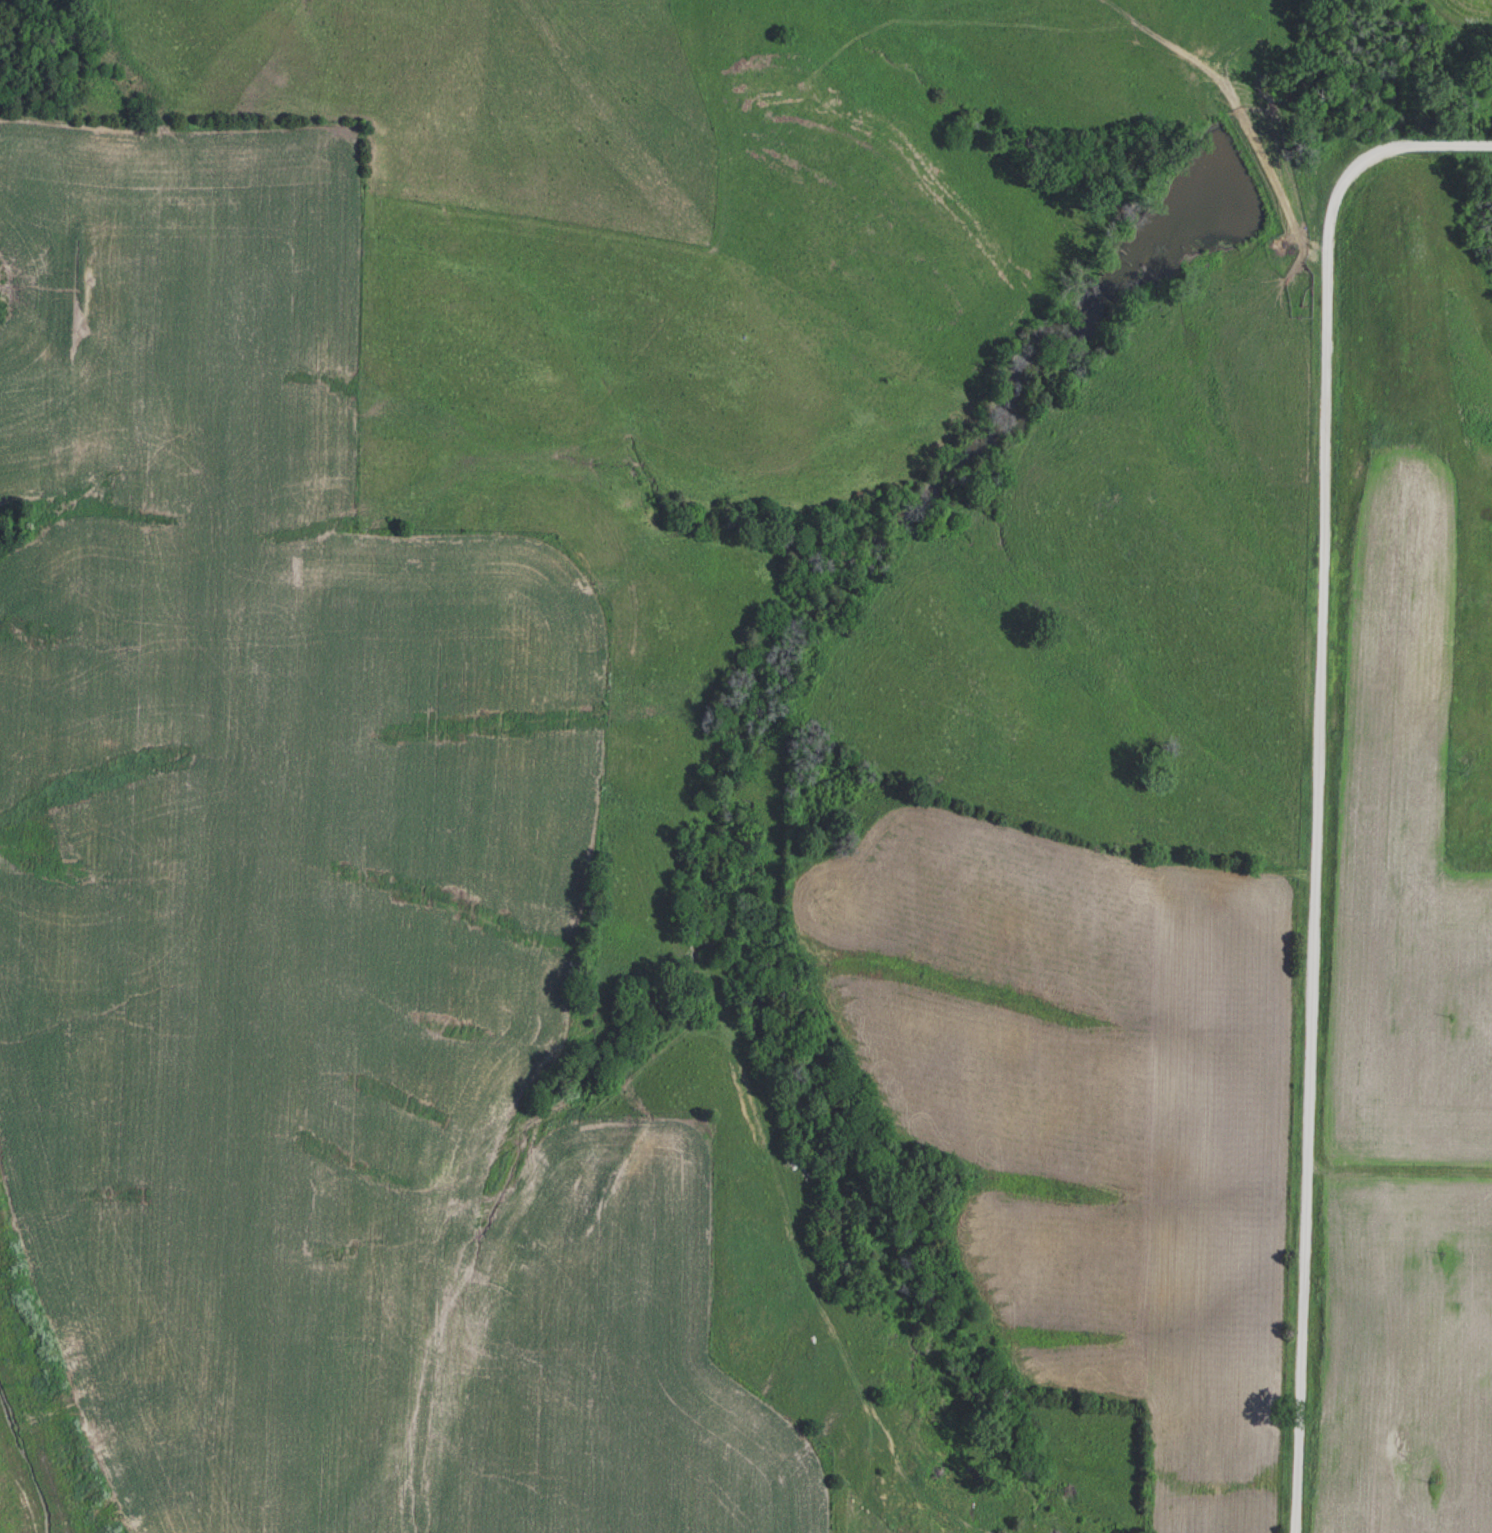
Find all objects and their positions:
road: (1317, 773)

